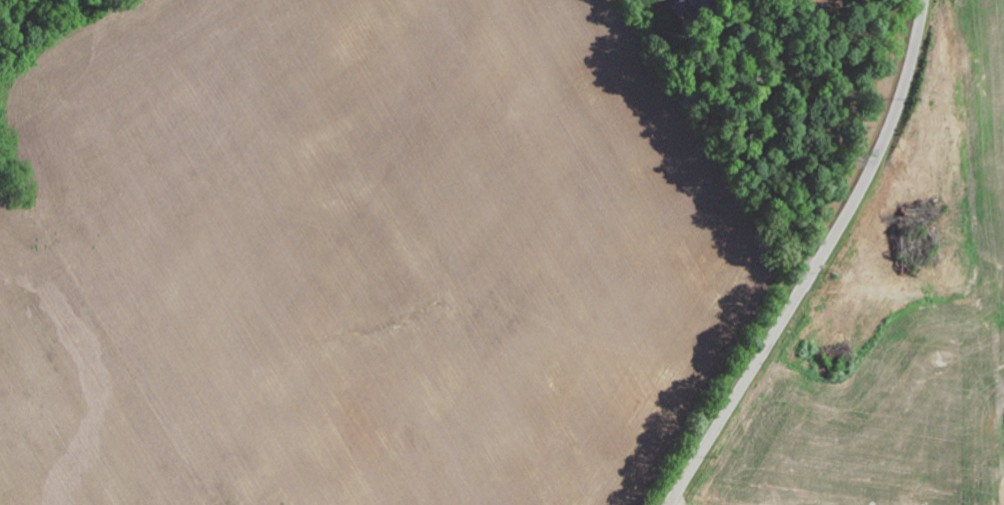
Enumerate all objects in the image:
road: (819, 262)

